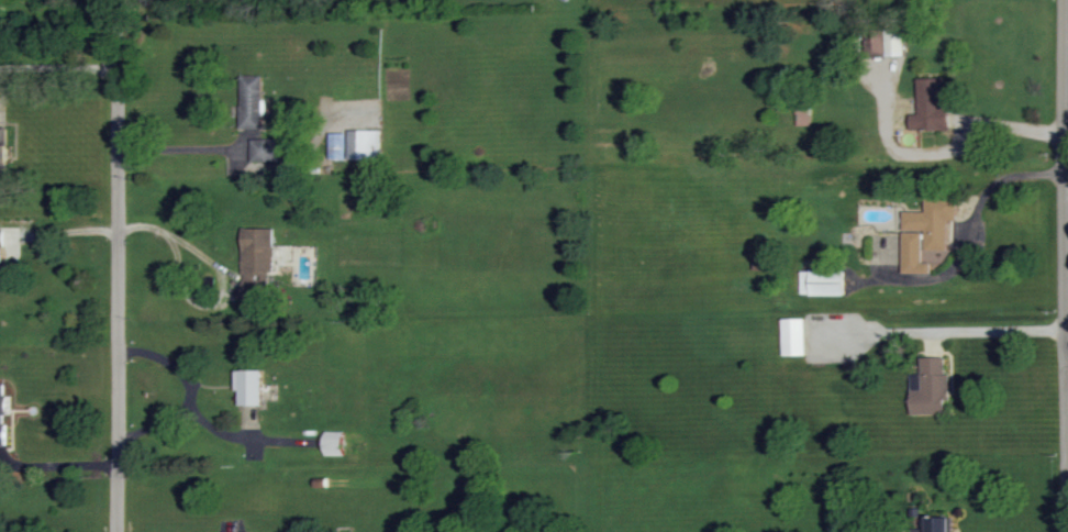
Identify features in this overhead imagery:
building: (568, 0)
building: (889, 43)
road: (57, 63)
building: (252, 102)
building: (931, 107)
building: (804, 117)
building: (364, 144)
building: (337, 146)
building: (266, 151)
building: (3, 160)
road: (1066, 181)
road: (1001, 188)
building: (933, 222)
road: (174, 229)
building: (914, 254)
building: (1, 257)
building: (256, 259)
road: (115, 265)
building: (822, 282)
road: (1002, 328)
building: (794, 337)
building: (249, 388)
road: (200, 390)
building: (3, 413)
building: (334, 444)
building: (939, 524)

